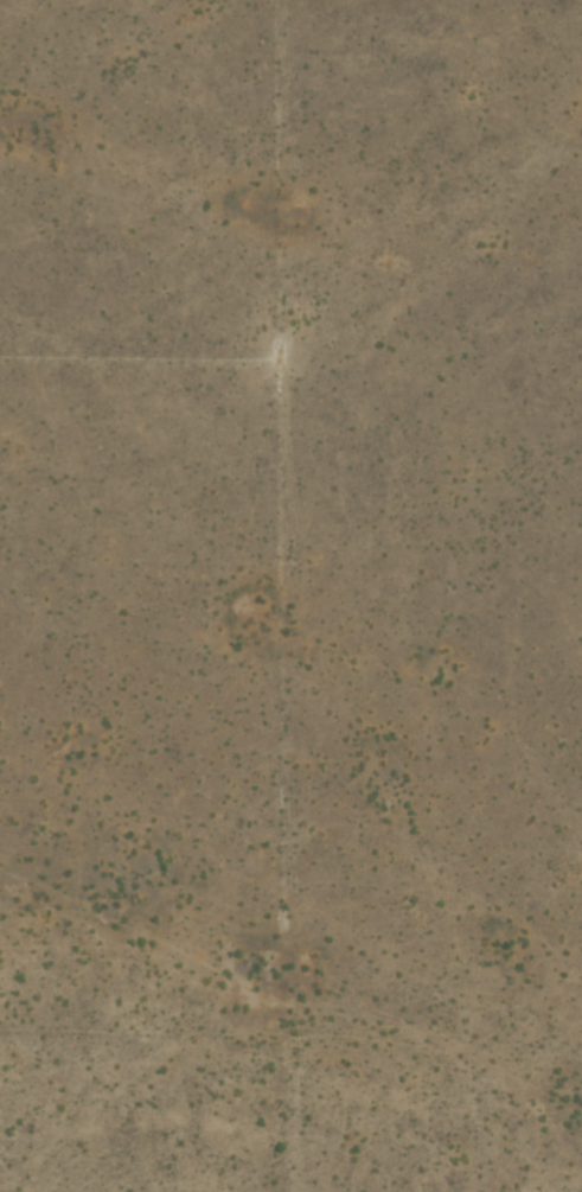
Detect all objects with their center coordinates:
road: (290, 1040)

